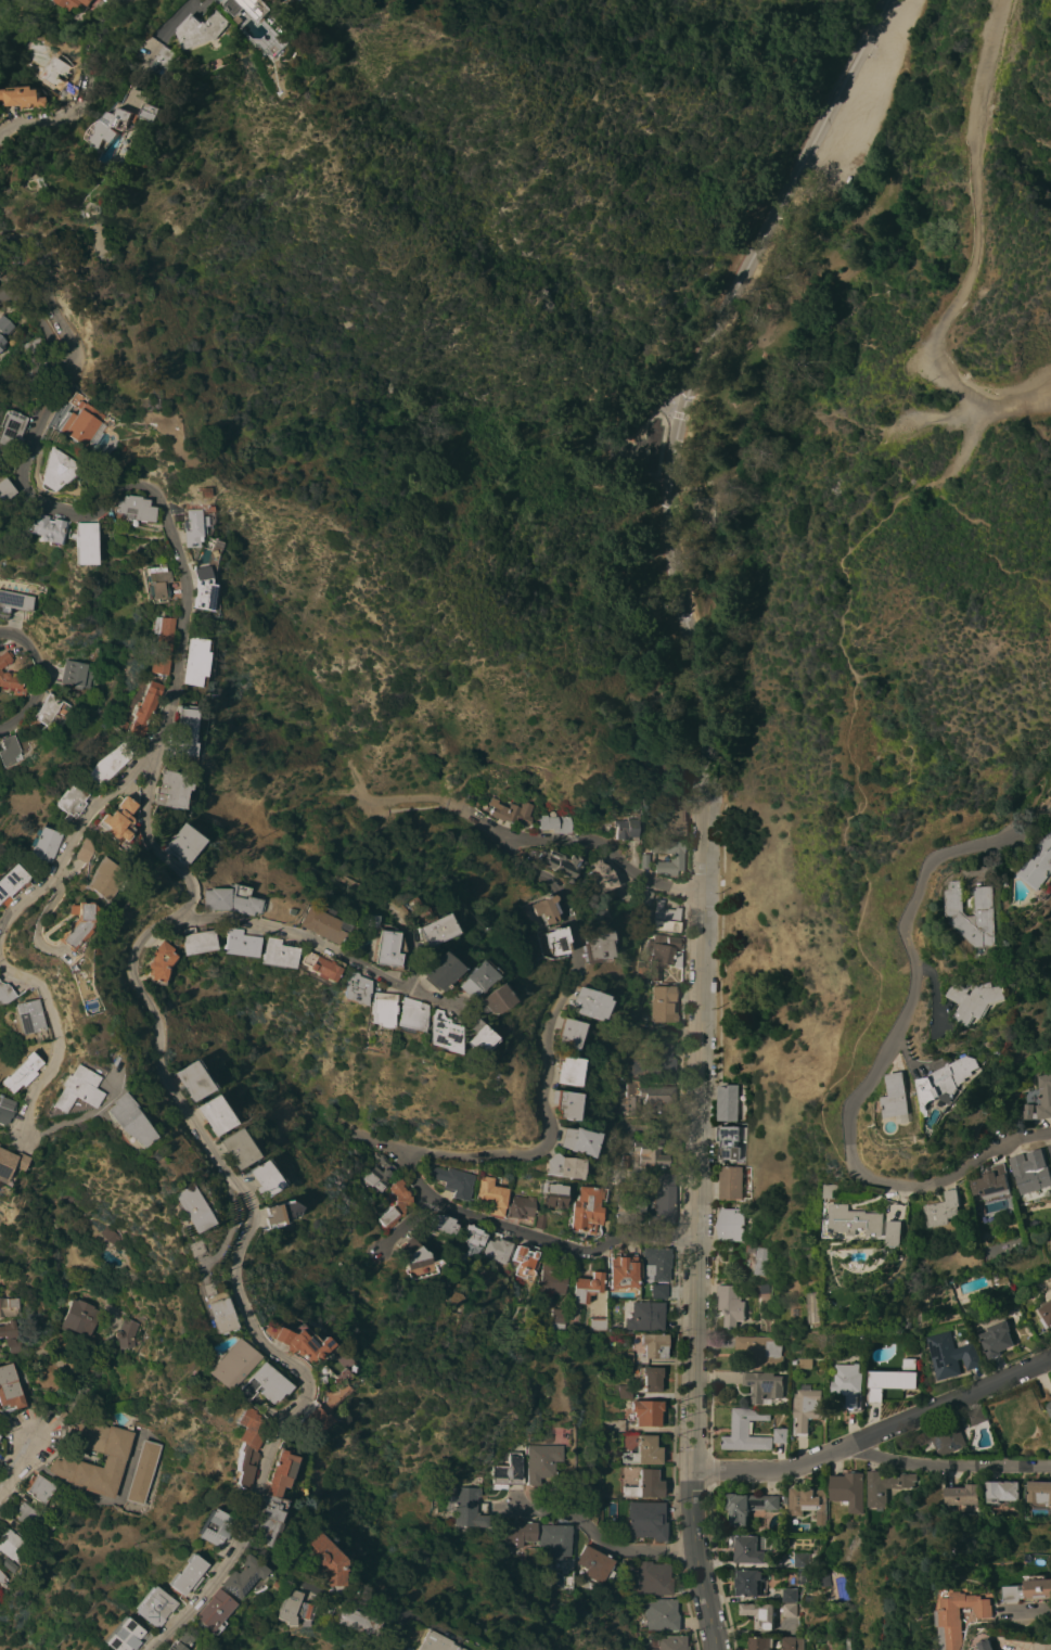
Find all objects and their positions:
building: (78, 3)
building: (256, 7)
building: (287, 17)
road: (188, 18)
building: (206, 28)
road: (872, 50)
building: (170, 63)
road: (863, 88)
road: (85, 91)
parking lot: (867, 93)
building: (23, 97)
building: (159, 111)
building: (0, 112)
building: (0, 114)
building: (120, 127)
road: (978, 246)
building: (1, 270)
road: (41, 321)
building: (4, 324)
building: (1, 342)
building: (33, 367)
road: (940, 417)
building: (75, 421)
road: (680, 425)
building: (10, 429)
building: (52, 470)
building: (3, 489)
building: (200, 491)
building: (133, 508)
building: (192, 525)
building: (42, 528)
building: (80, 541)
building: (212, 542)
building: (153, 581)
building: (200, 588)
road: (940, 600)
building: (13, 602)
building: (155, 644)
building: (5, 657)
building: (189, 662)
building: (79, 674)
road: (40, 677)
building: (13, 682)
building: (49, 708)
building: (136, 708)
building: (177, 731)
building: (9, 751)
building: (101, 763)
road: (860, 779)
building: (165, 789)
building: (62, 800)
building: (511, 811)
building: (108, 818)
building: (554, 822)
building: (675, 822)
building: (626, 828)
road: (66, 832)
building: (178, 841)
road: (589, 842)
building: (36, 843)
building: (74, 849)
building: (677, 856)
road: (313, 861)
building: (563, 862)
building: (1041, 867)
building: (601, 877)
building: (9, 878)
building: (92, 879)
road: (181, 890)
building: (645, 896)
building: (223, 899)
building: (345, 909)
building: (543, 909)
building: (961, 913)
building: (666, 917)
building: (362, 920)
building: (317, 924)
building: (66, 925)
building: (432, 929)
road: (292, 934)
building: (190, 941)
road: (403, 941)
building: (553, 941)
building: (234, 943)
building: (597, 945)
building: (382, 949)
building: (273, 952)
building: (663, 955)
building: (154, 962)
building: (315, 967)
building: (434, 971)
building: (469, 979)
building: (351, 987)
building: (2, 993)
road: (425, 997)
building: (485, 999)
building: (977, 999)
building: (590, 1002)
building: (663, 1003)
building: (379, 1009)
building: (407, 1014)
building: (22, 1016)
building: (571, 1033)
building: (437, 1034)
building: (471, 1036)
road: (47, 1047)
building: (655, 1059)
road: (879, 1063)
building: (569, 1071)
building: (15, 1072)
building: (188, 1080)
building: (948, 1080)
building: (66, 1089)
building: (655, 1095)
building: (897, 1096)
building: (1040, 1099)
building: (727, 1102)
building: (566, 1103)
building: (2, 1107)
building: (208, 1114)
building: (119, 1120)
road: (373, 1140)
building: (578, 1140)
building: (730, 1141)
building: (230, 1148)
building: (1050, 1148)
building: (144, 1154)
road: (486, 1155)
building: (644, 1157)
building: (8, 1161)
building: (562, 1166)
building: (379, 1172)
building: (1029, 1174)
building: (257, 1178)
building: (453, 1180)
building: (991, 1180)
building: (731, 1182)
building: (554, 1193)
building: (492, 1194)
building: (64, 1197)
building: (664, 1200)
building: (396, 1203)
building: (522, 1206)
building: (629, 1206)
building: (182, 1208)
building: (588, 1208)
building: (943, 1208)
building: (271, 1212)
building: (540, 1219)
building: (855, 1220)
road: (401, 1223)
building: (444, 1224)
building: (730, 1225)
building: (894, 1232)
building: (107, 1233)
building: (473, 1240)
building: (185, 1248)
building: (498, 1250)
building: (412, 1254)
building: (761, 1259)
building: (525, 1261)
building: (655, 1263)
building: (623, 1270)
road: (698, 1274)
building: (551, 1278)
building: (587, 1286)
building: (198, 1289)
building: (659, 1291)
building: (730, 1305)
building: (8, 1306)
building: (813, 1306)
building: (1047, 1308)
building: (643, 1314)
building: (212, 1315)
building: (79, 1318)
building: (557, 1318)
building: (597, 1323)
building: (11, 1329)
building: (126, 1332)
building: (997, 1338)
building: (290, 1342)
building: (654, 1344)
building: (14, 1345)
building: (758, 1352)
building: (951, 1355)
building: (626, 1357)
building: (222, 1363)
building: (649, 1377)
building: (884, 1381)
building: (251, 1384)
building: (848, 1384)
building: (9, 1386)
building: (765, 1386)
building: (625, 1392)
building: (1049, 1405)
building: (806, 1408)
building: (646, 1411)
building: (975, 1415)
building: (298, 1423)
building: (614, 1425)
building: (746, 1430)
road: (879, 1432)
building: (780, 1435)
building: (947, 1437)
building: (236, 1443)
road: (25, 1448)
building: (644, 1450)
building: (114, 1458)
building: (541, 1461)
road: (950, 1464)
building: (509, 1469)
building: (143, 1471)
building: (269, 1473)
building: (645, 1484)
building: (886, 1486)
building: (39, 1487)
building: (848, 1489)
building: (1040, 1492)
building: (1002, 1493)
building: (962, 1495)
building: (63, 1496)
building: (808, 1502)
building: (71, 1506)
building: (748, 1506)
building: (465, 1507)
building: (30, 1517)
building: (256, 1520)
building: (644, 1521)
building: (206, 1526)
building: (520, 1532)
road: (595, 1532)
building: (28, 1535)
building: (555, 1539)
building: (11, 1545)
building: (747, 1549)
building: (315, 1559)
building: (802, 1559)
building: (10, 1564)
building: (595, 1564)
building: (177, 1574)
building: (232, 1576)
building: (3, 1578)
building: (654, 1578)
building: (749, 1582)
building: (1030, 1588)
building: (790, 1595)
road: (325, 1599)
building: (144, 1606)
building: (313, 1608)
building: (283, 1609)
building: (787, 1609)
road: (1028, 1609)
building: (202, 1612)
building: (759, 1613)
building: (963, 1613)
building: (663, 1614)
building: (346, 1621)
building: (113, 1635)
building: (167, 1642)
building: (424, 1642)
building: (672, 1642)
building: (760, 1642)
building: (849, 1642)
building: (793, 1643)
building: (991, 1645)
road: (1034, 1646)

